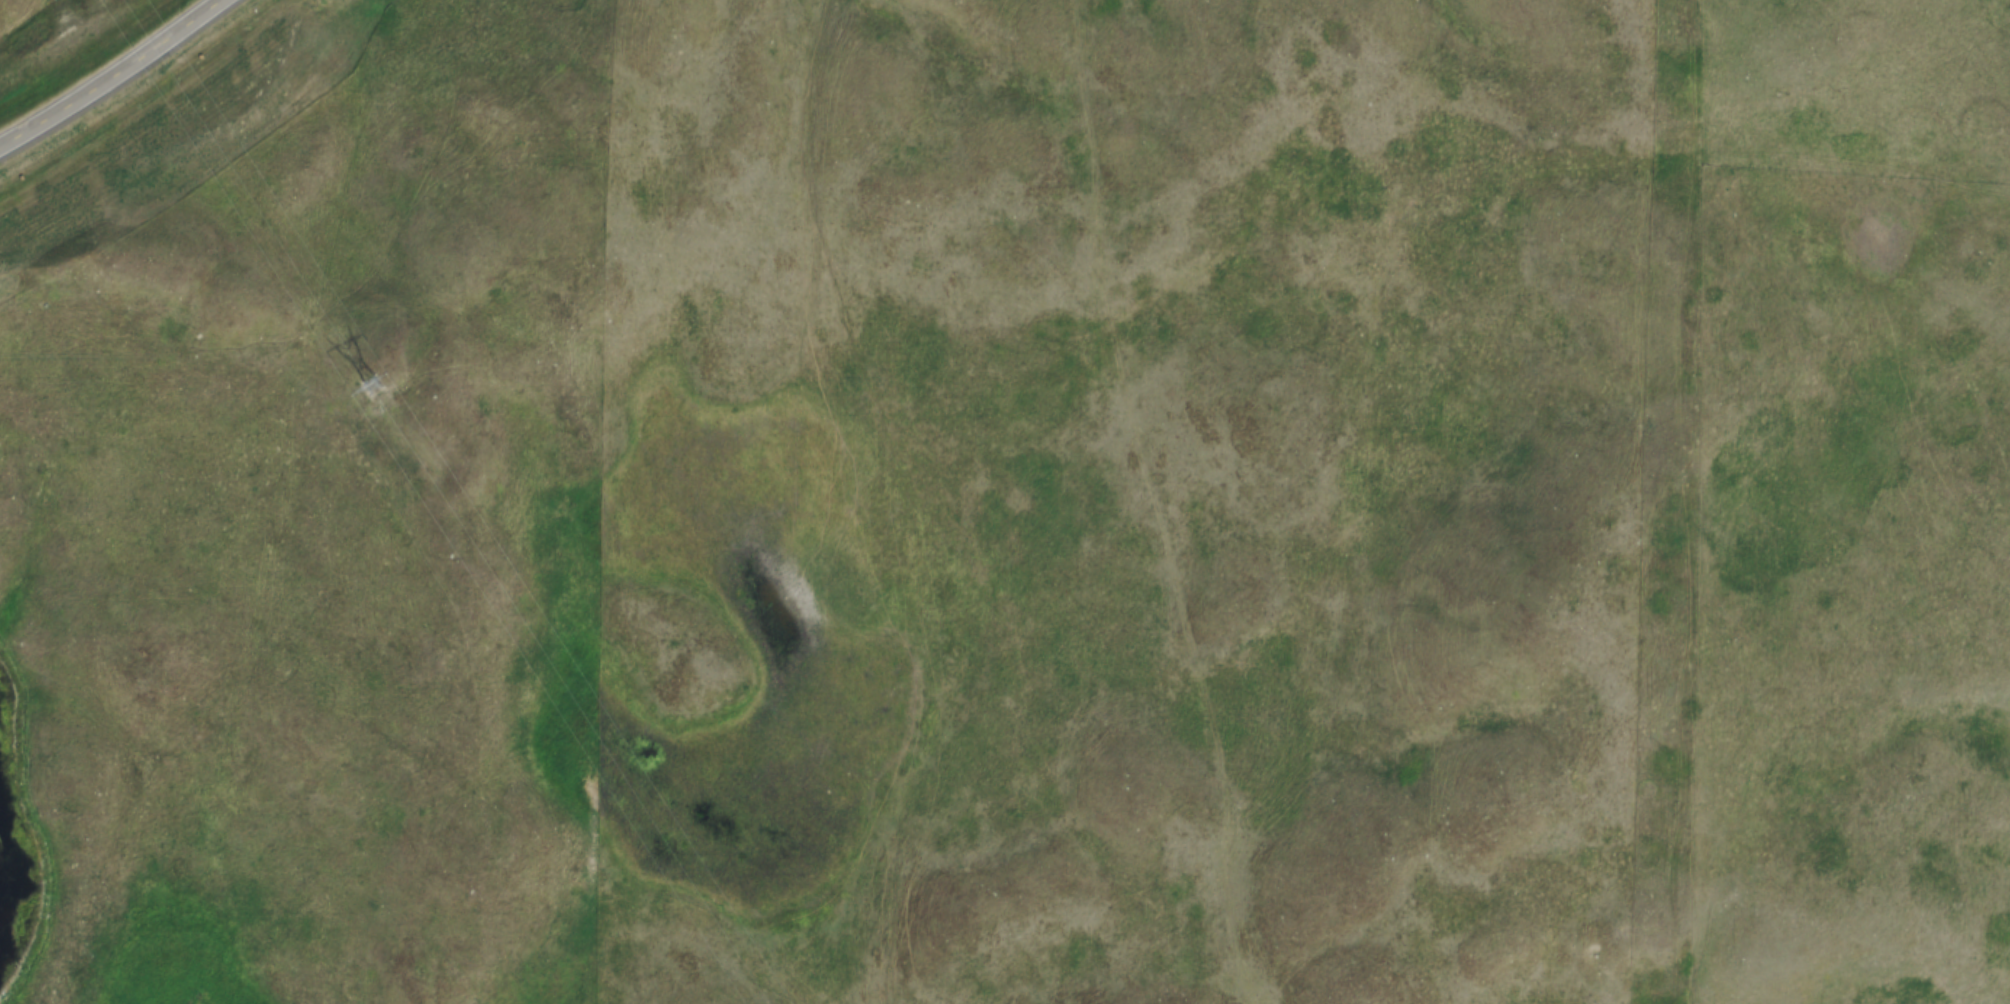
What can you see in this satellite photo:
road: (119, 85)
power tower: (371, 390)

